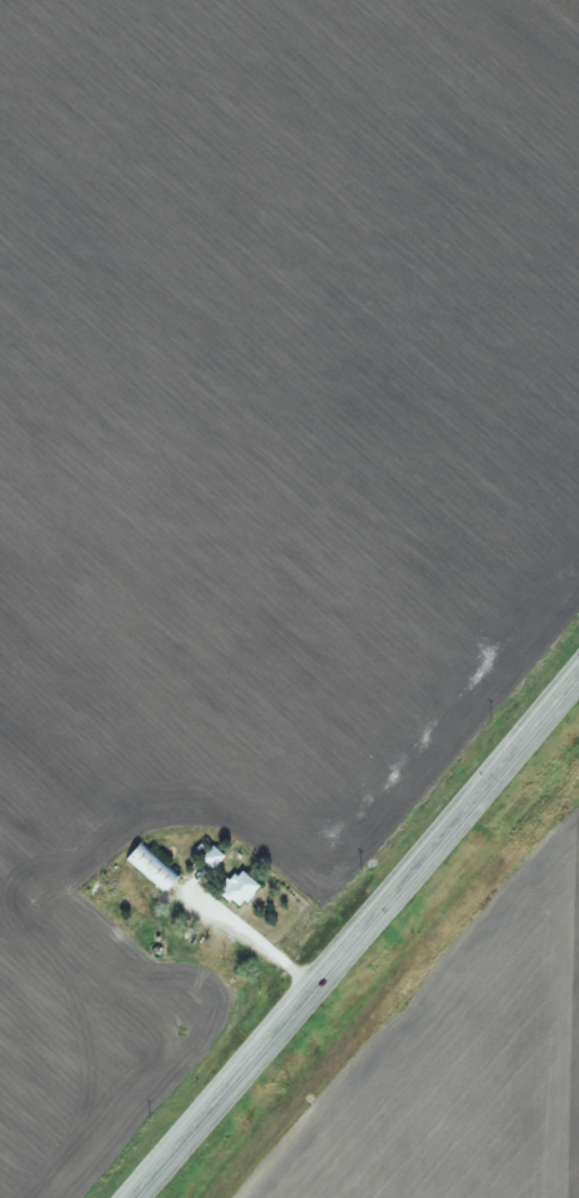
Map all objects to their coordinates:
building: (147, 865)
building: (236, 888)
road: (355, 934)
railway: (403, 990)

